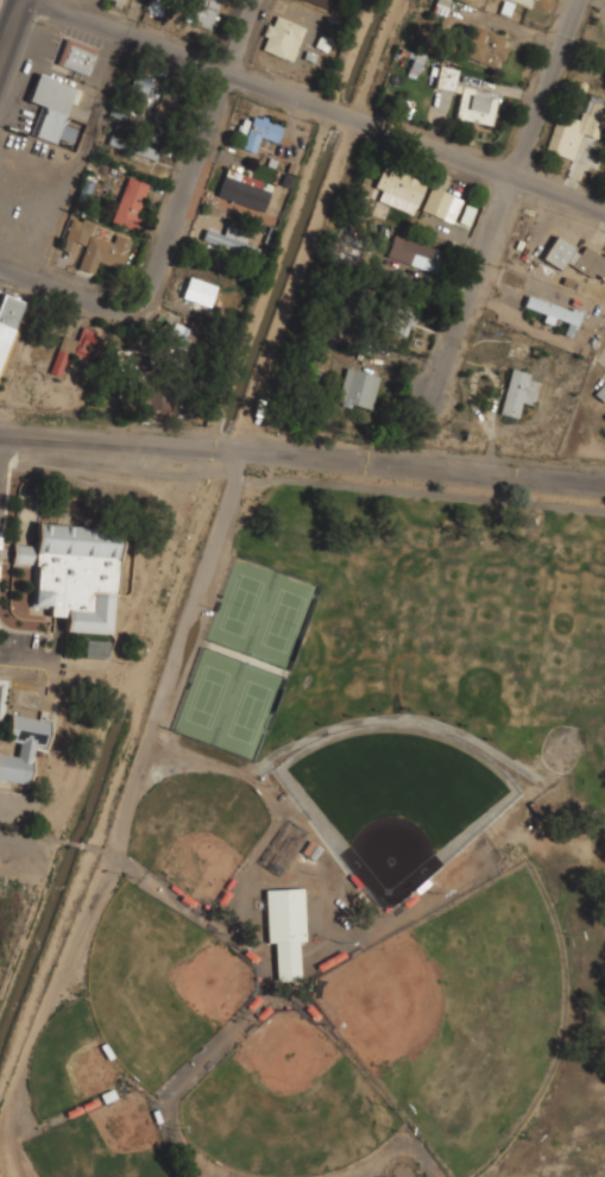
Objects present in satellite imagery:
building: (121, 0)
building: (527, 1)
building: (322, 2)
building: (159, 6)
building: (203, 13)
road: (11, 31)
building: (282, 37)
building: (485, 45)
road: (2, 49)
building: (76, 56)
building: (446, 75)
building: (152, 90)
building: (475, 103)
building: (52, 108)
road: (319, 109)
building: (575, 127)
building: (261, 131)
building: (133, 146)
building: (398, 189)
building: (244, 190)
road: (509, 197)
building: (131, 201)
building: (441, 203)
road: (176, 239)
building: (232, 241)
building: (96, 244)
building: (411, 252)
building: (576, 257)
building: (200, 290)
building: (553, 309)
building: (7, 320)
building: (397, 321)
building: (182, 335)
building: (82, 344)
building: (133, 361)
building: (358, 388)
building: (517, 392)
building: (601, 392)
building: (147, 401)
road: (302, 452)
road: (2, 458)
building: (74, 573)
park: (240, 604)
park: (282, 619)
building: (97, 647)
road: (29, 654)
park: (206, 695)
road: (158, 704)
park: (248, 711)
building: (23, 747)
park: (395, 795)
park: (196, 831)
park: (351, 866)
building: (285, 929)
park: (158, 983)
park: (459, 1016)
park: (69, 1062)
park: (285, 1103)
park: (103, 1143)

